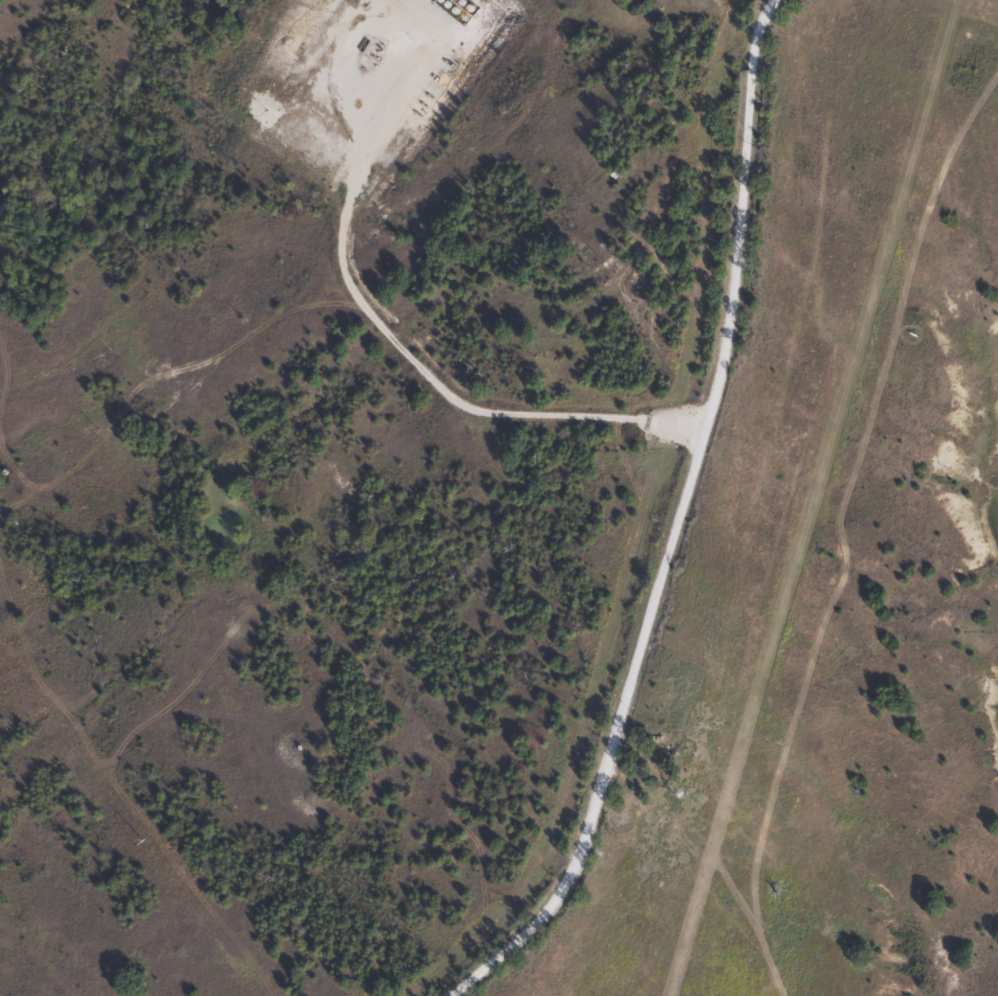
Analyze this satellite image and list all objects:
road: (427, 374)
road: (683, 518)

